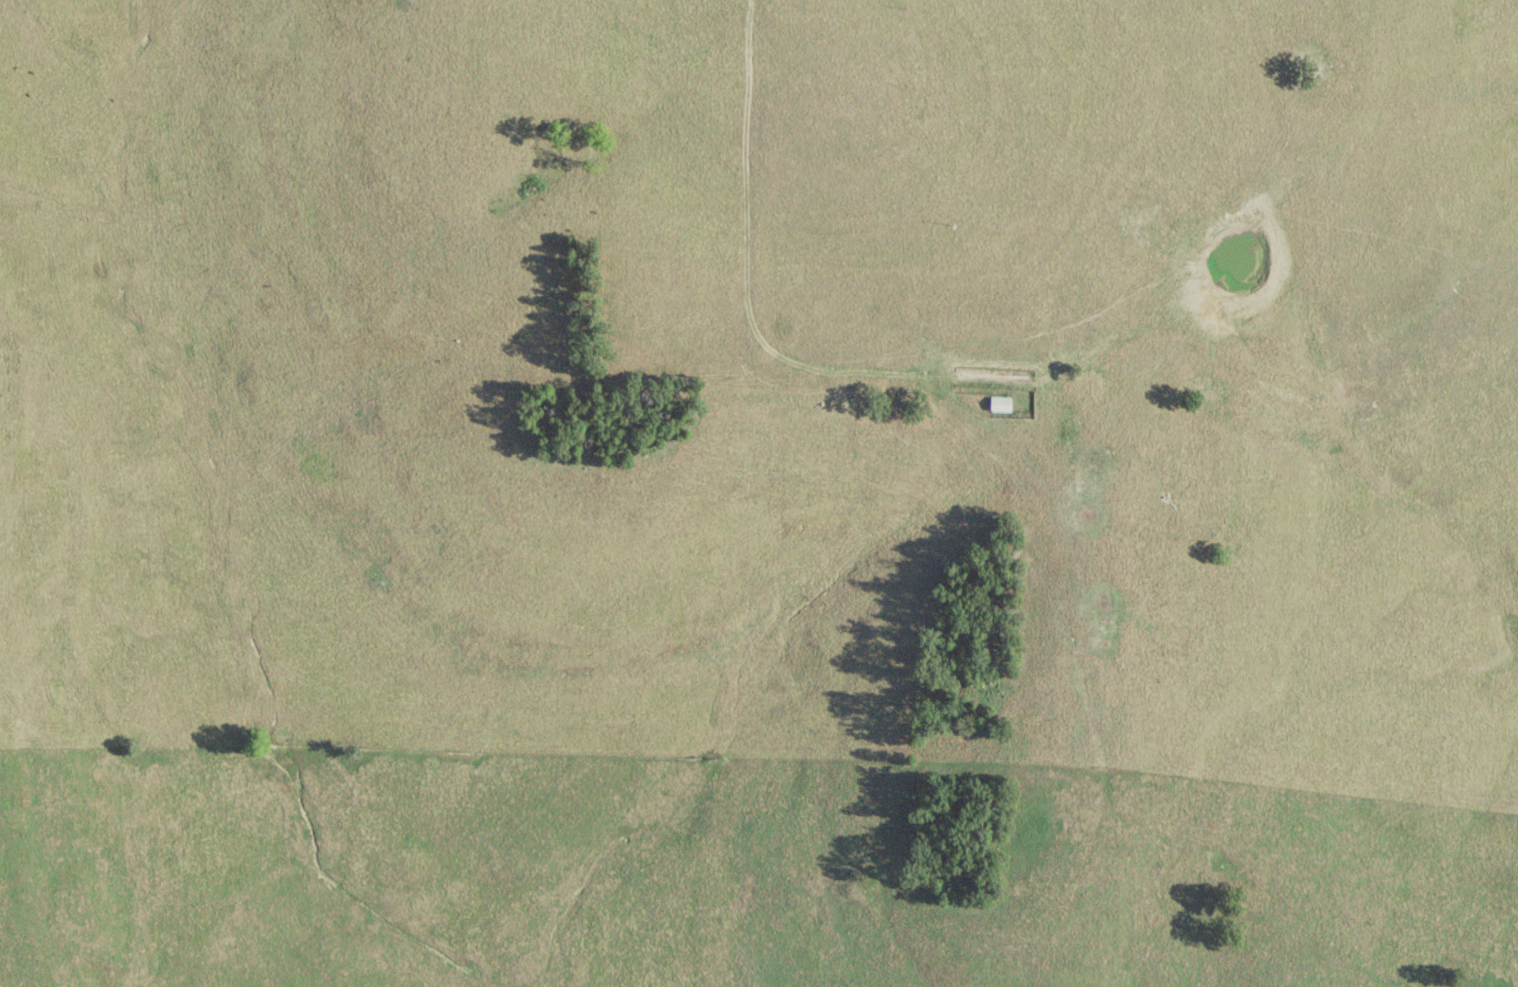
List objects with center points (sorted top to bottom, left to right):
building: (1002, 403)

